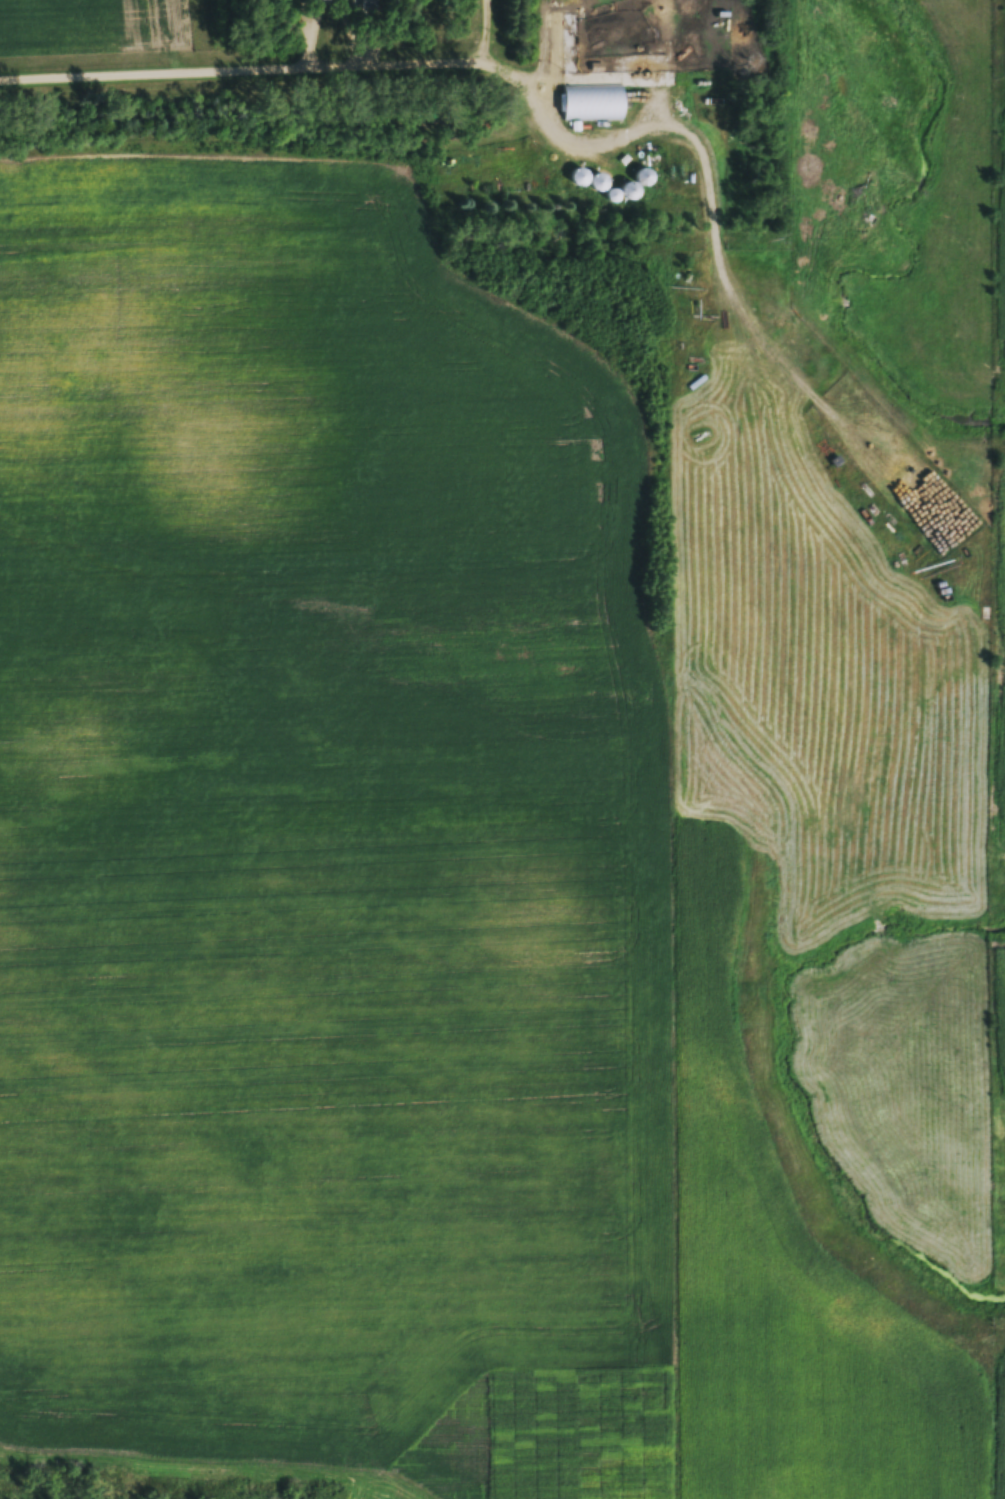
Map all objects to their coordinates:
building: (311, 1)
building: (369, 4)
road: (274, 67)
building: (599, 95)
building: (588, 186)

